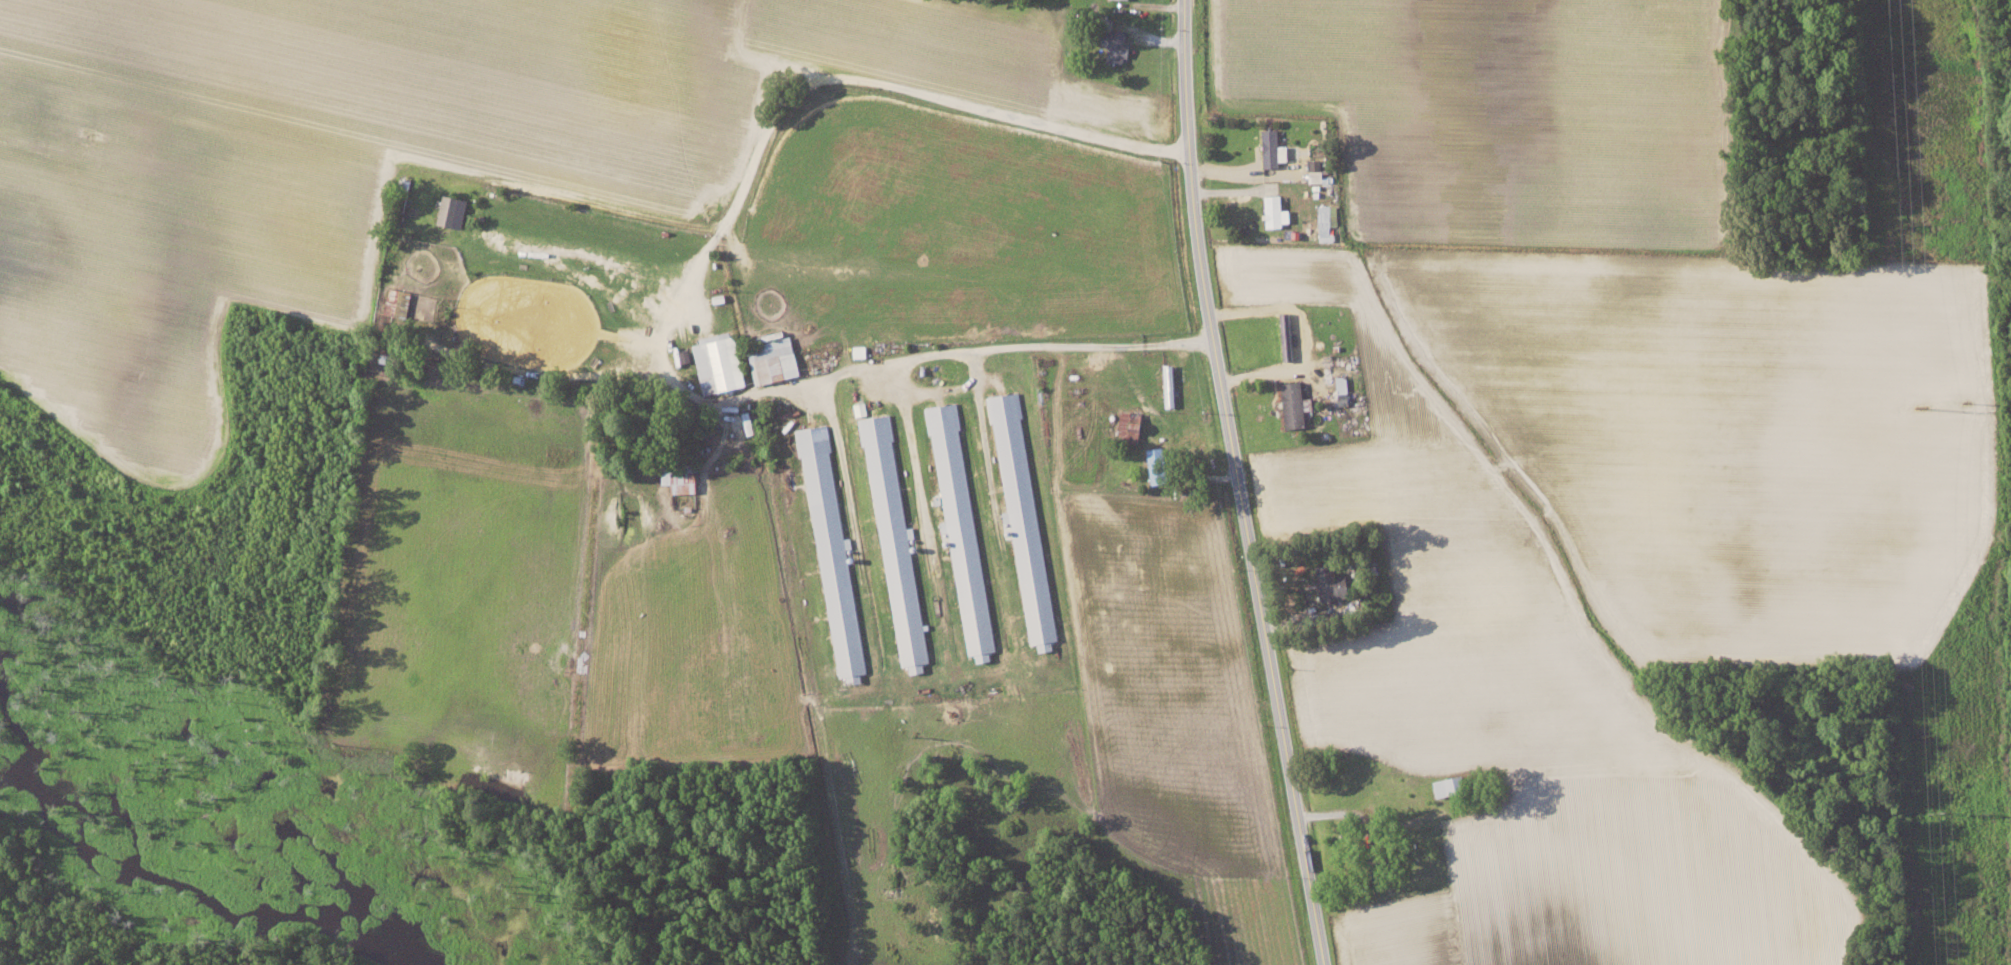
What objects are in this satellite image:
building: (1121, 46)
road: (927, 94)
building: (1275, 148)
building: (454, 210)
building: (1275, 210)
building: (1329, 220)
building: (400, 301)
road: (1063, 346)
building: (775, 359)
building: (720, 362)
building: (1343, 384)
power tower: (1966, 401)
building: (1296, 404)
power tower: (1921, 407)
building: (749, 422)
building: (1160, 465)
building: (683, 478)
road: (1236, 484)
building: (1024, 516)
building: (963, 527)
building: (898, 545)
building: (835, 556)
building: (1334, 583)
building: (1452, 785)
power tower: (1942, 812)
power tower: (1986, 815)

